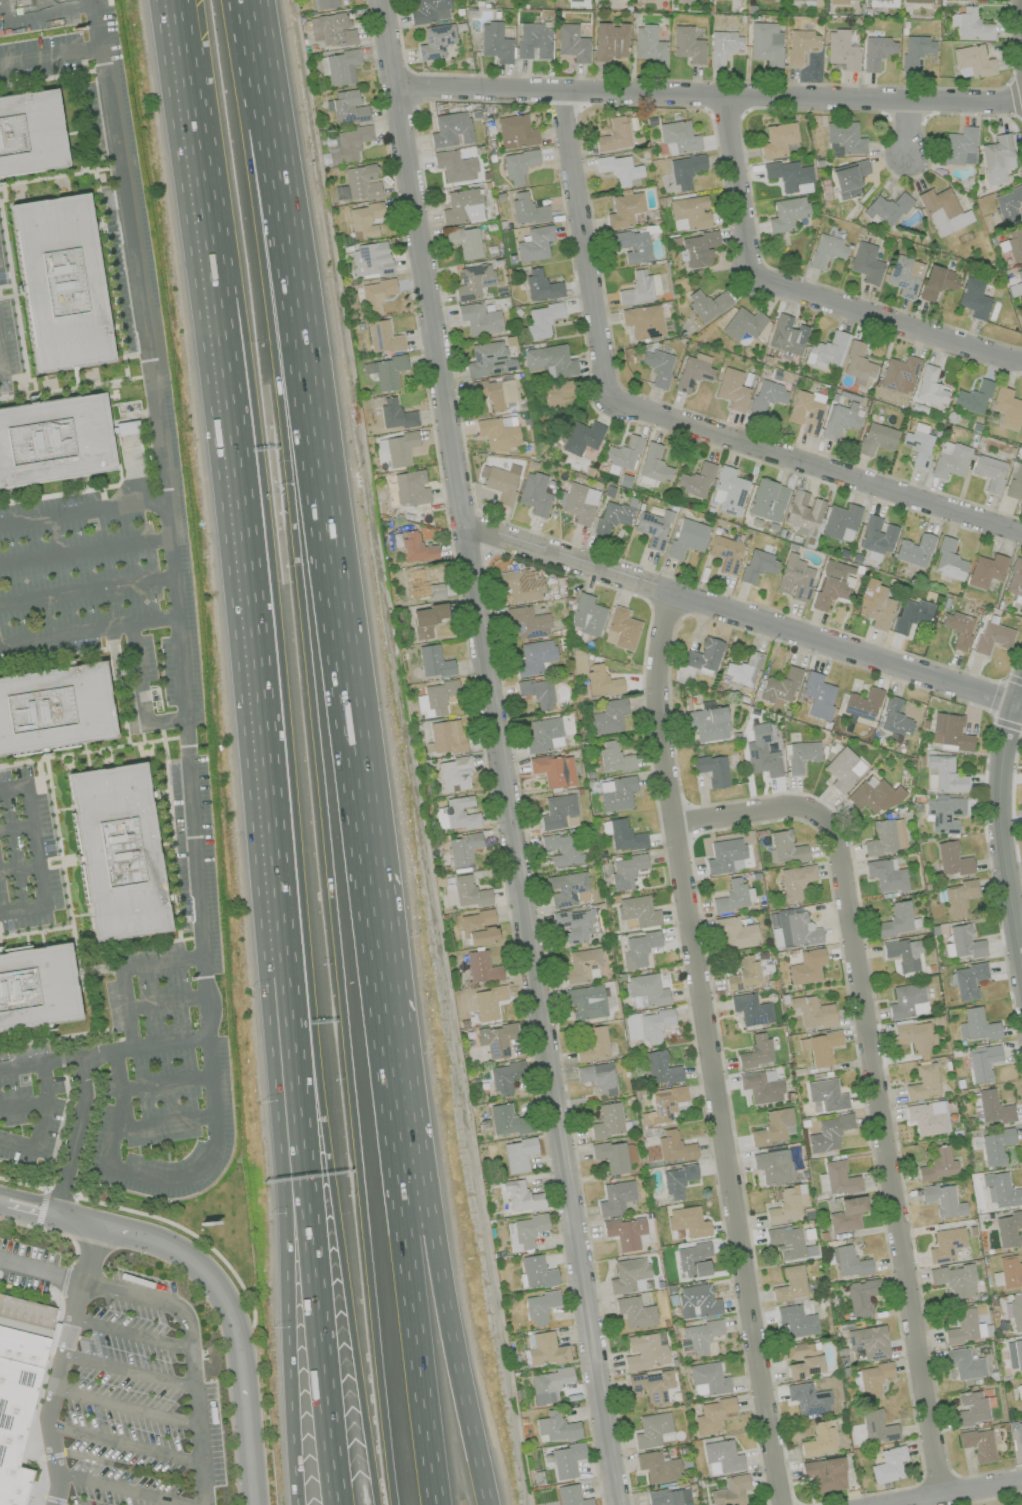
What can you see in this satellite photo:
building: (574, 0)
building: (763, 0)
building: (919, 1)
building: (815, 2)
building: (837, 2)
building: (880, 3)
building: (323, 4)
building: (428, 10)
road: (47, 13)
road: (174, 23)
building: (970, 24)
building: (331, 30)
building: (435, 41)
building: (533, 41)
building: (609, 41)
building: (495, 42)
building: (572, 43)
building: (765, 43)
building: (687, 45)
building: (799, 45)
building: (648, 46)
building: (722, 46)
building: (841, 50)
building: (915, 50)
building: (876, 52)
road: (50, 53)
road: (252, 54)
building: (972, 62)
building: (341, 67)
road: (46, 78)
road: (708, 94)
building: (348, 107)
road: (908, 128)
building: (450, 129)
building: (515, 131)
building: (30, 132)
building: (614, 135)
building: (678, 137)
building: (843, 138)
building: (778, 139)
building: (348, 144)
building: (959, 147)
building: (996, 158)
building: (518, 165)
building: (454, 166)
building: (620, 169)
building: (685, 170)
building: (789, 176)
road: (47, 177)
building: (847, 178)
road: (199, 180)
building: (361, 182)
building: (1007, 204)
building: (462, 207)
building: (886, 208)
building: (527, 209)
building: (623, 209)
building: (943, 211)
building: (689, 213)
building: (786, 213)
building: (364, 219)
road: (103, 227)
building: (466, 242)
building: (534, 244)
building: (1012, 245)
building: (632, 246)
building: (696, 248)
building: (825, 251)
building: (370, 259)
building: (866, 263)
building: (903, 276)
building: (472, 280)
building: (936, 282)
building: (1016, 283)
building: (60, 284)
building: (540, 286)
building: (640, 288)
road: (800, 292)
building: (375, 295)
building: (973, 298)
building: (706, 304)
building: (479, 319)
building: (541, 320)
building: (643, 321)
building: (741, 323)
building: (785, 336)
building: (383, 337)
building: (827, 350)
building: (489, 359)
building: (550, 361)
building: (857, 363)
road: (1, 367)
building: (657, 367)
building: (386, 371)
building: (693, 371)
building: (898, 374)
building: (930, 387)
road: (70, 389)
building: (731, 389)
building: (494, 392)
building: (555, 393)
building: (767, 396)
building: (972, 398)
building: (1006, 408)
building: (805, 410)
building: (395, 414)
road: (666, 418)
building: (840, 420)
building: (126, 427)
building: (498, 432)
building: (581, 437)
building: (875, 438)
building: (54, 440)
building: (917, 445)
building: (400, 448)
building: (622, 454)
building: (949, 459)
building: (654, 464)
building: (989, 472)
building: (695, 480)
building: (500, 482)
building: (1015, 482)
building: (406, 488)
building: (728, 491)
building: (534, 494)
road: (317, 497)
building: (767, 500)
building: (577, 502)
building: (803, 512)
road: (84, 513)
building: (613, 515)
road: (169, 516)
building: (840, 522)
building: (876, 537)
building: (687, 538)
building: (416, 548)
building: (914, 550)
road: (86, 552)
building: (725, 552)
building: (948, 560)
building: (757, 565)
building: (985, 570)
road: (564, 572)
building: (795, 578)
building: (1014, 578)
building: (422, 586)
building: (519, 586)
building: (831, 591)
road: (88, 592)
road: (665, 610)
building: (877, 610)
building: (587, 615)
building: (910, 615)
road: (742, 618)
building: (426, 620)
building: (527, 622)
building: (958, 628)
building: (620, 629)
road: (90, 632)
building: (992, 637)
road: (260, 651)
building: (704, 655)
road: (56, 656)
building: (534, 656)
road: (840, 661)
building: (433, 662)
building: (579, 662)
building: (742, 669)
building: (601, 681)
building: (780, 687)
road: (119, 692)
building: (537, 692)
building: (817, 695)
building: (436, 697)
building: (862, 704)
building: (53, 708)
building: (607, 717)
building: (895, 717)
building: (707, 723)
road: (1007, 724)
building: (950, 732)
building: (544, 734)
building: (446, 736)
road: (88, 751)
road: (498, 752)
building: (761, 752)
building: (801, 755)
building: (614, 757)
building: (712, 769)
building: (843, 769)
building: (554, 770)
building: (453, 774)
building: (946, 774)
building: (616, 793)
building: (872, 795)
road: (327, 806)
building: (557, 811)
building: (459, 813)
building: (944, 814)
building: (1021, 817)
road: (15, 824)
road: (999, 831)
road: (172, 834)
building: (625, 836)
building: (885, 837)
building: (785, 847)
building: (562, 849)
building: (462, 850)
building: (118, 852)
building: (724, 855)
road: (36, 858)
building: (952, 860)
road: (18, 867)
building: (625, 871)
building: (886, 875)
building: (795, 880)
building: (566, 888)
building: (469, 892)
building: (734, 896)
building: (958, 897)
road: (68, 902)
road: (300, 909)
building: (638, 911)
building: (897, 920)
building: (576, 924)
building: (478, 927)
building: (795, 929)
road: (36, 931)
building: (735, 932)
building: (965, 942)
road: (134, 947)
building: (638, 949)
building: (904, 953)
building: (582, 965)
building: (481, 967)
building: (806, 967)
road: (124, 968)
building: (744, 973)
building: (968, 980)
building: (37, 987)
building: (644, 992)
road: (168, 1000)
building: (907, 1000)
building: (488, 1002)
building: (585, 1002)
building: (750, 1009)
building: (812, 1012)
building: (647, 1025)
building: (976, 1025)
road: (54, 1037)
building: (914, 1037)
building: (496, 1039)
building: (594, 1044)
road: (146, 1046)
building: (820, 1047)
road: (707, 1050)
building: (756, 1051)
building: (981, 1062)
road: (41, 1063)
building: (660, 1068)
building: (505, 1077)
building: (597, 1078)
road: (874, 1079)
building: (923, 1082)
road: (166, 1083)
building: (761, 1086)
building: (825, 1095)
building: (663, 1104)
road: (45, 1105)
road: (23, 1106)
building: (993, 1107)
road: (122, 1109)
building: (927, 1117)
building: (507, 1120)
building: (607, 1120)
road: (165, 1123)
building: (773, 1127)
building: (828, 1133)
road: (58, 1135)
road: (74, 1137)
road: (17, 1143)
building: (995, 1146)
building: (674, 1147)
road: (211, 1153)
building: (518, 1154)
building: (614, 1155)
building: (937, 1164)
building: (773, 1166)
building: (839, 1178)
building: (677, 1180)
building: (1001, 1191)
road: (402, 1196)
road: (425, 1196)
building: (521, 1196)
building: (615, 1197)
building: (943, 1200)
road: (3, 1204)
building: (786, 1204)
road: (30, 1211)
building: (847, 1214)
building: (687, 1221)
building: (1007, 1228)
building: (524, 1231)
building: (626, 1233)
building: (788, 1243)
building: (946, 1244)
road: (288, 1247)
road: (315, 1247)
building: (693, 1260)
building: (849, 1262)
road: (42, 1272)
building: (536, 1272)
building: (1009, 1272)
building: (955, 1280)
building: (790, 1284)
building: (862, 1295)
building: (697, 1301)
road: (225, 1307)
building: (540, 1307)
building: (1016, 1311)
building: (634, 1312)
building: (796, 1321)
building: (964, 1327)
road: (131, 1333)
building: (698, 1336)
building: (868, 1341)
building: (546, 1349)
building: (645, 1351)
building: (1014, 1355)
road: (189, 1356)
building: (803, 1359)
building: (965, 1363)
road: (60, 1365)
road: (128, 1371)
building: (873, 1378)
building: (707, 1379)
building: (549, 1383)
building: (651, 1385)
building: (807, 1398)
building: (16, 1400)
road: (125, 1407)
building: (972, 1408)
building: (712, 1415)
building: (556, 1427)
building: (877, 1427)
building: (651, 1429)
building: (1019, 1432)
building: (818, 1439)
road: (122, 1444)
building: (978, 1444)
building: (721, 1457)
building: (566, 1460)
building: (888, 1465)
building: (658, 1466)
building: (824, 1474)
road: (116, 1487)
building: (730, 1491)
road: (956, 1493)
building: (570, 1496)
building: (669, 1497)
park: (1002, 1501)
road: (925, 1502)

